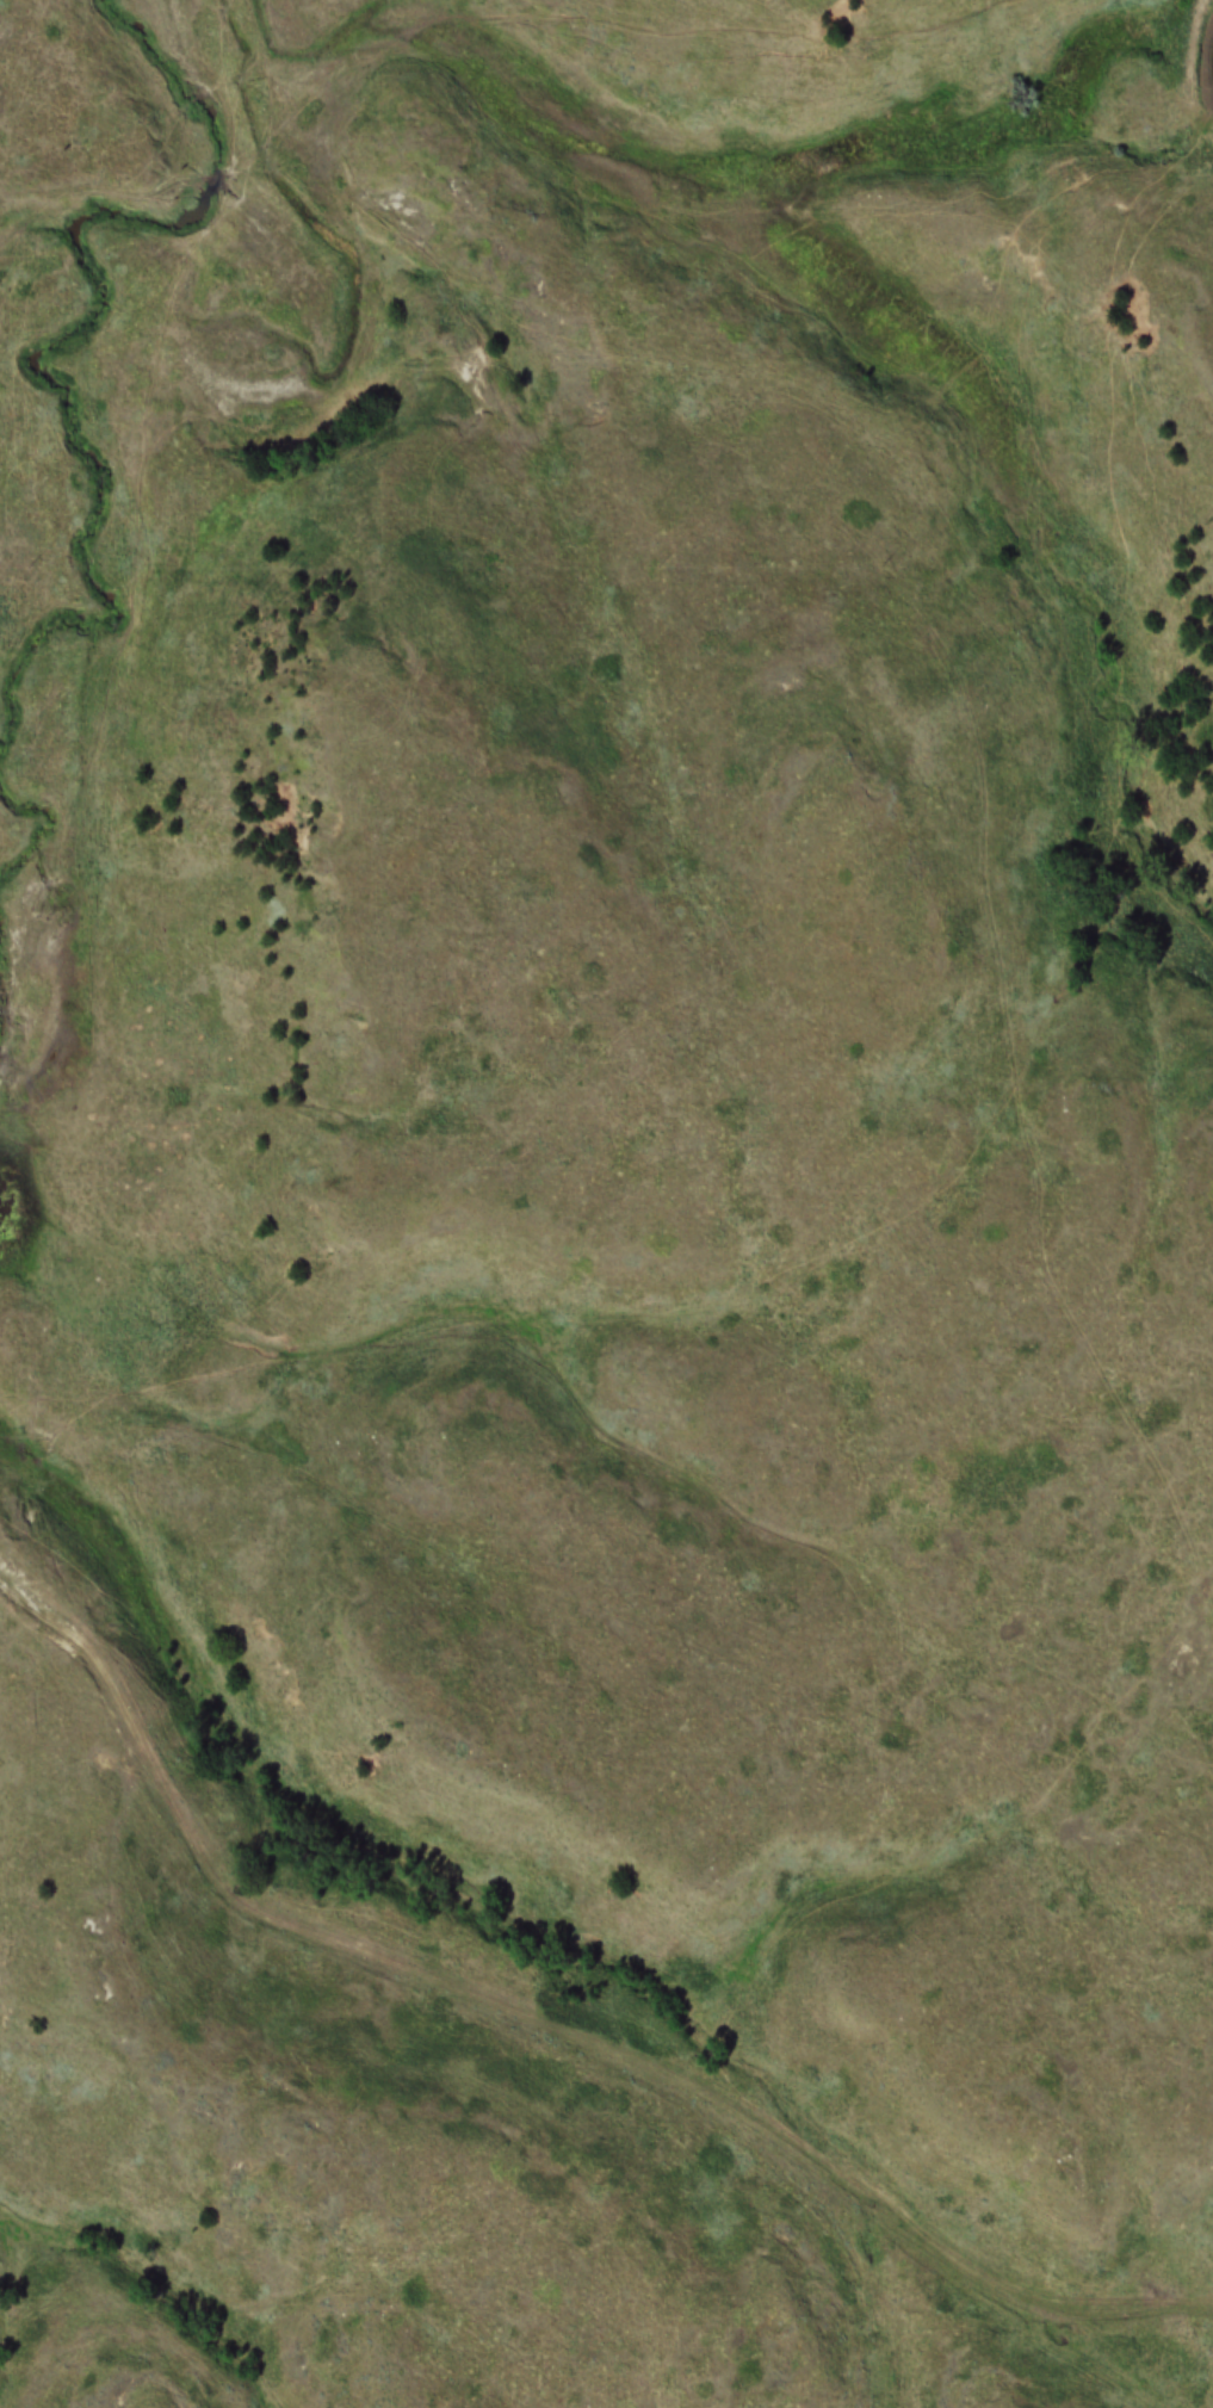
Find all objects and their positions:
dam: (1186, 43)
road: (551, 2020)

